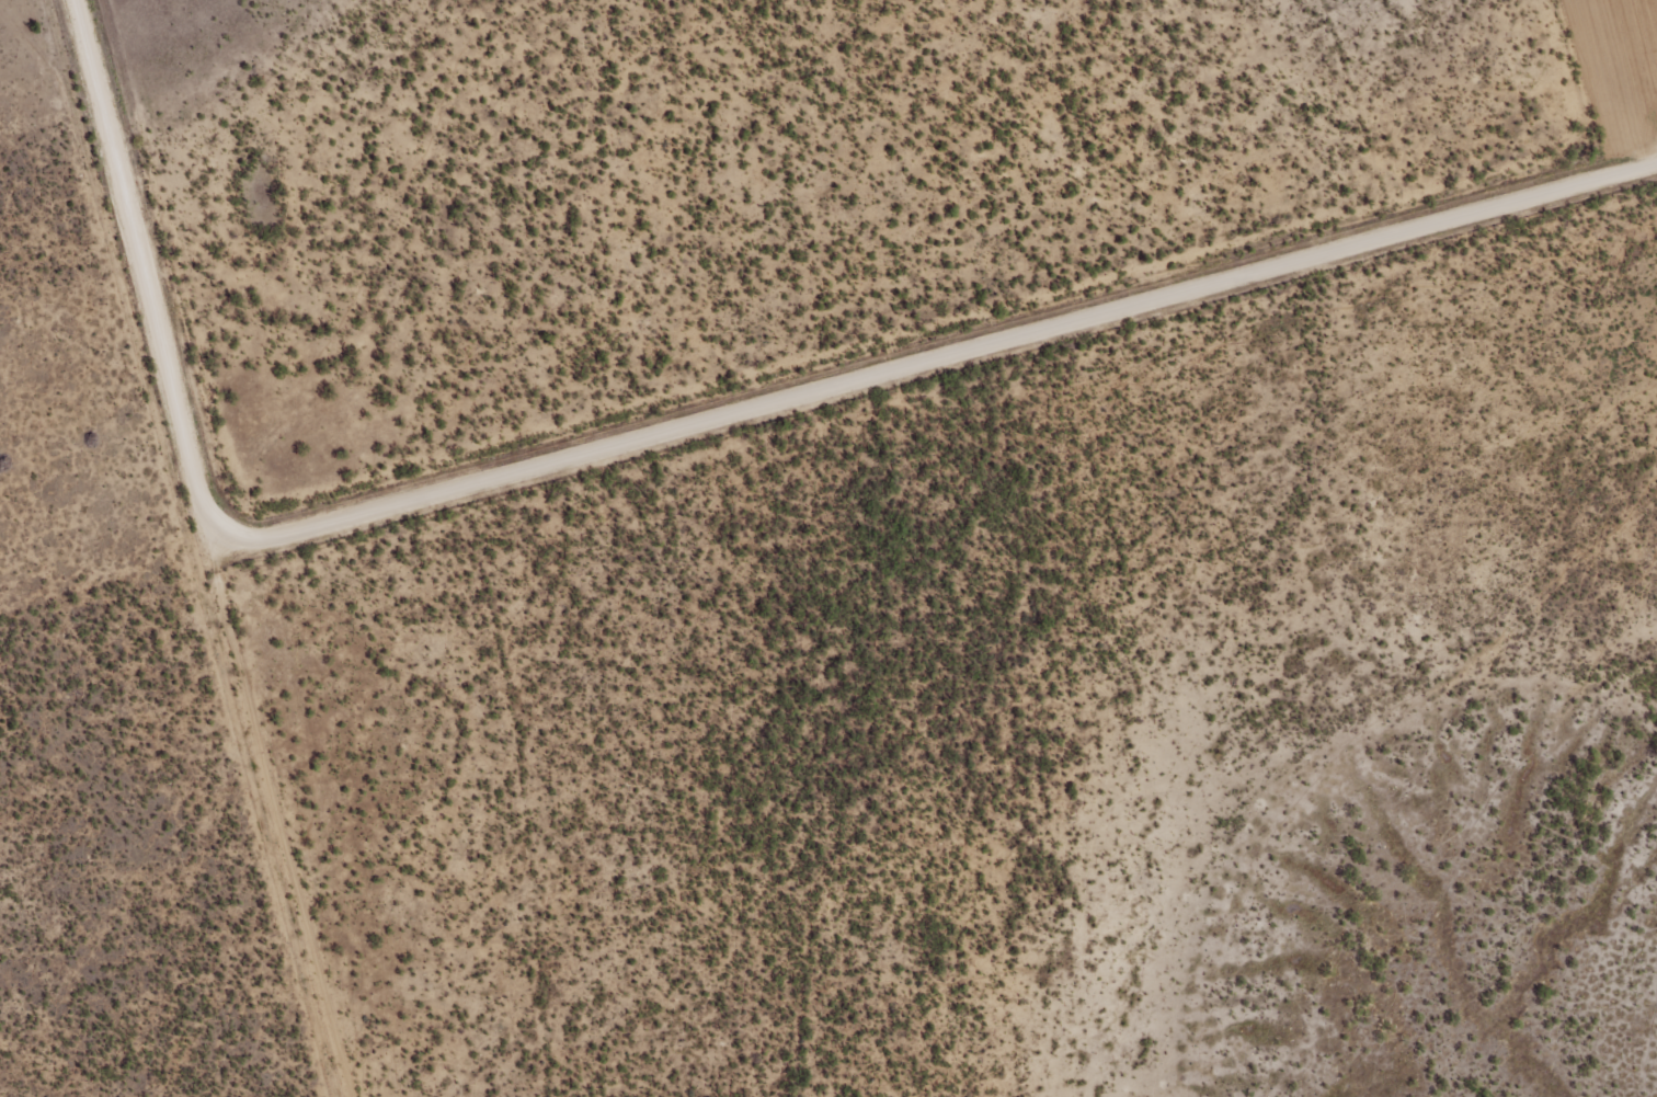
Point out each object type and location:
road: (661, 432)
road: (285, 824)

